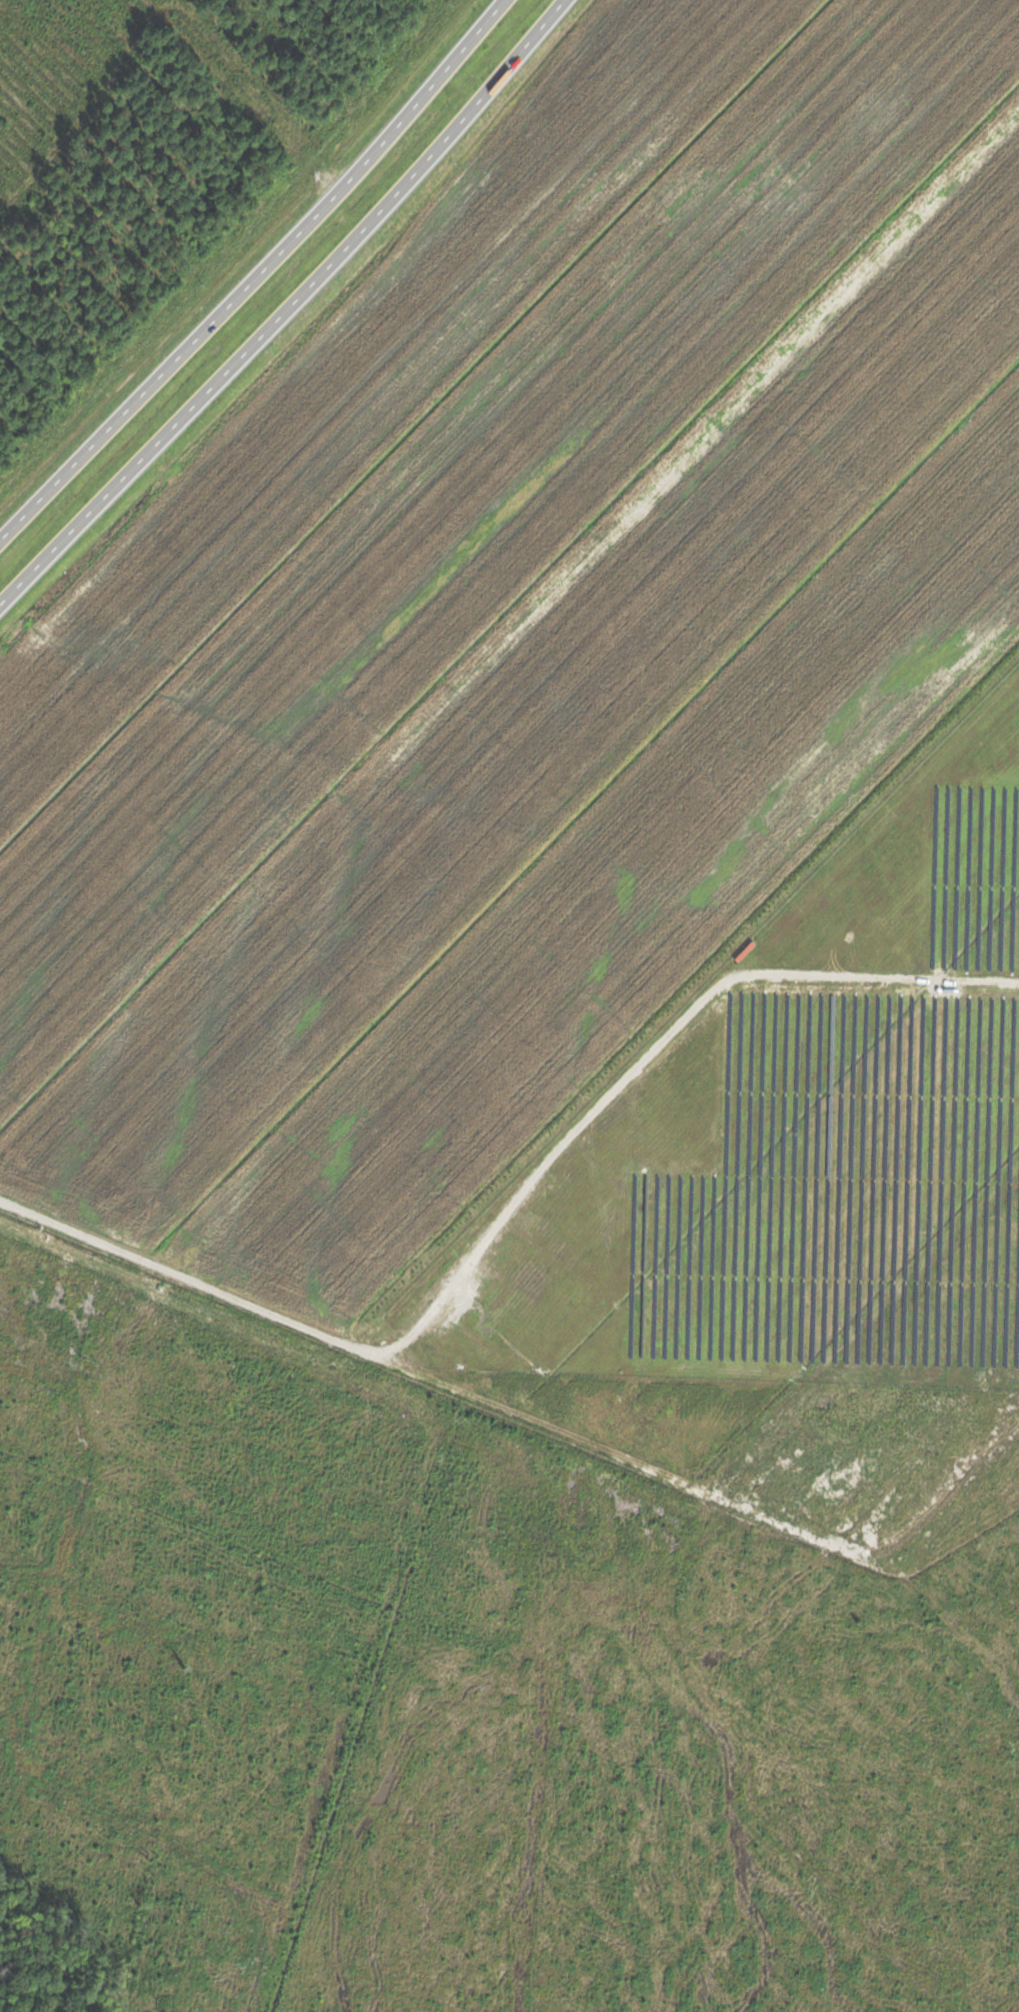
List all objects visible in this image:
road: (253, 274)
road: (286, 307)

